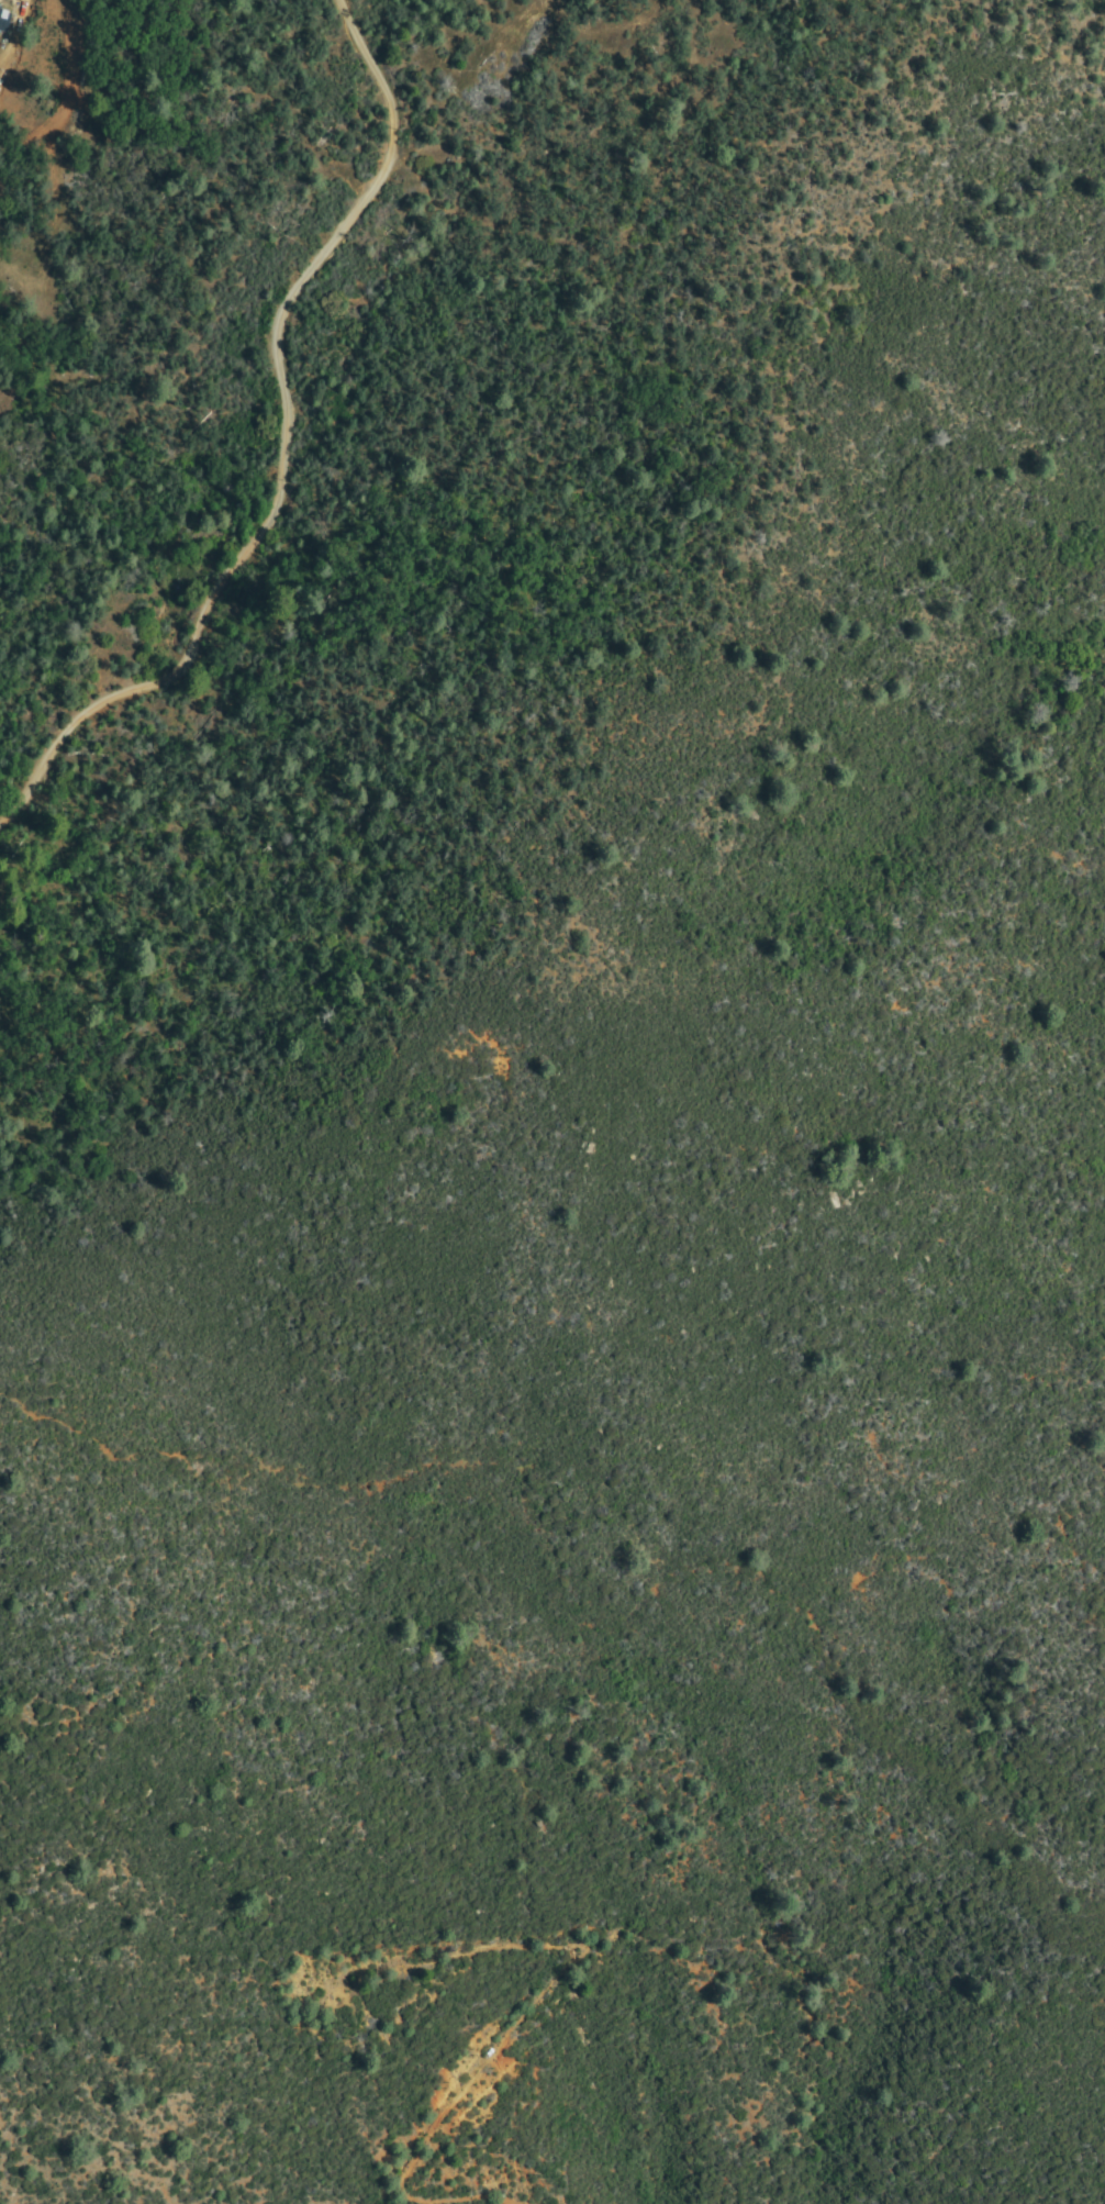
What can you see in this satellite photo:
building: (4, 19)
road: (277, 430)

